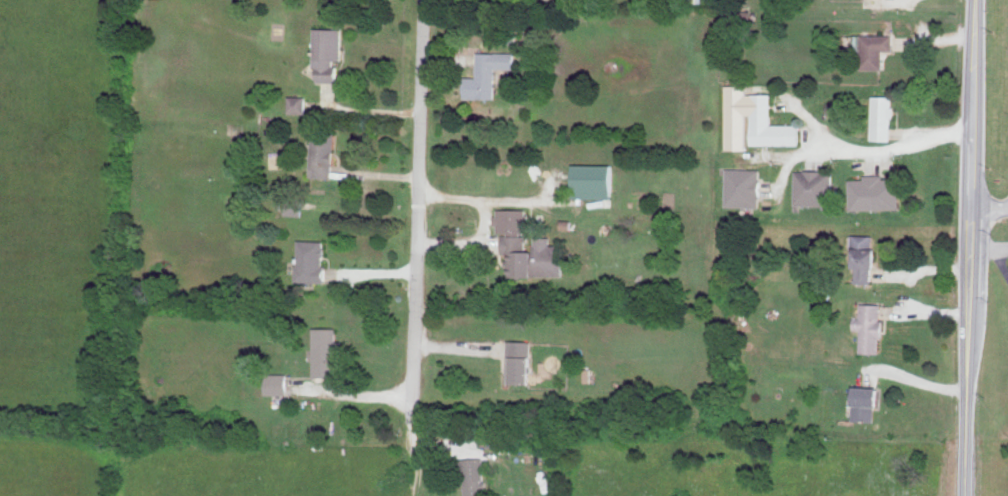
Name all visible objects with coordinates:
road: (883, 1)
building: (738, 18)
building: (872, 49)
building: (328, 52)
building: (488, 73)
building: (297, 103)
building: (882, 117)
building: (753, 120)
theme park: (750, 122)
road: (804, 122)
road: (856, 153)
building: (322, 154)
building: (593, 180)
building: (743, 187)
building: (813, 187)
building: (874, 192)
road: (496, 202)
road: (990, 204)
building: (293, 205)
building: (528, 246)
road: (414, 247)
road: (970, 247)
road: (989, 250)
building: (865, 258)
building: (310, 260)
road: (999, 267)
building: (869, 327)
building: (325, 351)
building: (519, 362)
building: (275, 383)
road: (350, 395)
building: (867, 402)
building: (474, 477)

